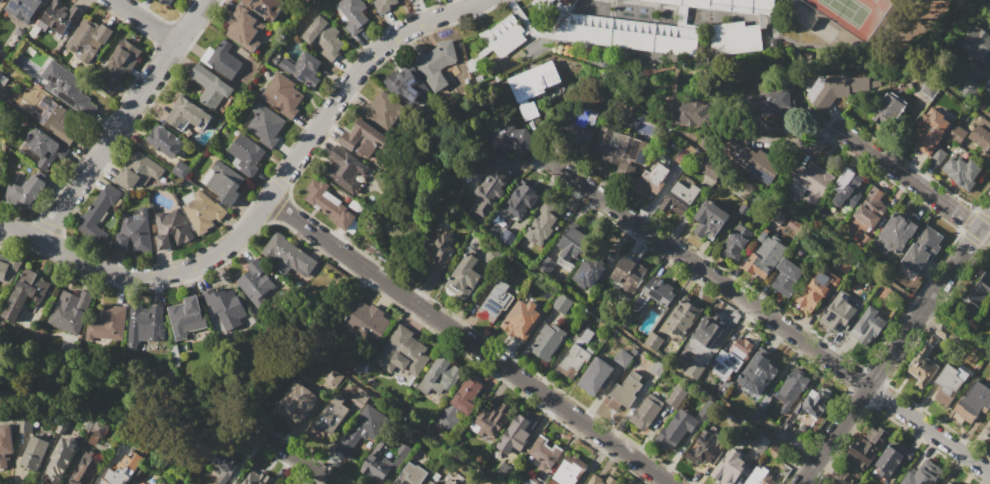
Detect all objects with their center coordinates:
building: (1, 1)
building: (167, 1)
building: (543, 4)
building: (384, 5)
building: (727, 5)
building: (265, 7)
building: (24, 9)
park: (855, 14)
building: (61, 15)
building: (352, 15)
road: (142, 22)
building: (243, 27)
park: (844, 28)
building: (632, 33)
building: (505, 36)
building: (324, 37)
building: (734, 37)
building: (89, 38)
building: (975, 40)
road: (835, 41)
building: (222, 59)
building: (436, 63)
building: (119, 64)
building: (303, 68)
building: (989, 75)
building: (405, 82)
road: (800, 83)
building: (875, 83)
building: (65, 85)
building: (532, 85)
building: (211, 88)
building: (930, 88)
building: (968, 88)
building: (836, 89)
building: (283, 95)
building: (773, 101)
road: (967, 102)
building: (889, 108)
building: (383, 109)
building: (187, 114)
building: (689, 115)
building: (58, 119)
road: (122, 120)
building: (580, 123)
building: (263, 124)
building: (931, 131)
building: (979, 132)
building: (956, 134)
building: (363, 138)
building: (511, 138)
building: (165, 141)
building: (45, 147)
building: (620, 152)
building: (246, 153)
building: (938, 155)
building: (683, 158)
building: (757, 162)
building: (345, 168)
building: (180, 169)
building: (710, 169)
building: (139, 170)
building: (962, 172)
building: (0, 177)
building: (652, 180)
building: (809, 180)
road: (912, 181)
building: (224, 182)
road: (278, 184)
building: (493, 186)
building: (848, 188)
building: (27, 191)
building: (724, 195)
building: (678, 199)
building: (520, 200)
building: (329, 205)
building: (871, 208)
building: (742, 211)
building: (202, 212)
building: (98, 213)
building: (710, 219)
road: (984, 220)
building: (542, 228)
building: (171, 229)
building: (898, 230)
building: (134, 231)
road: (310, 231)
road: (19, 232)
building: (507, 235)
road: (826, 240)
building: (735, 242)
building: (573, 243)
building: (922, 249)
building: (287, 255)
building: (763, 255)
building: (439, 256)
building: (546, 265)
building: (592, 268)
building: (9, 269)
road: (367, 271)
building: (466, 273)
building: (628, 275)
building: (787, 277)
building: (257, 283)
building: (869, 284)
building: (817, 290)
building: (976, 290)
building: (24, 292)
building: (655, 293)
building: (495, 301)
building: (561, 304)
building: (989, 304)
building: (223, 305)
building: (70, 311)
building: (837, 313)
road: (766, 316)
building: (683, 317)
building: (185, 318)
building: (143, 319)
building: (521, 320)
building: (365, 322)
building: (107, 324)
building: (869, 324)
building: (707, 330)
building: (653, 340)
building: (548, 341)
road: (646, 351)
building: (403, 352)
road: (888, 355)
building: (622, 358)
building: (732, 358)
building: (573, 360)
building: (923, 363)
building: (657, 368)
building: (694, 369)
building: (759, 373)
building: (440, 375)
building: (595, 376)
building: (333, 377)
road: (524, 382)
building: (947, 384)
building: (791, 389)
building: (624, 391)
building: (676, 396)
building: (360, 397)
building: (296, 402)
building: (971, 403)
building: (459, 404)
building: (813, 404)
building: (646, 412)
building: (757, 413)
building: (330, 416)
building: (490, 420)
building: (24, 425)
building: (63, 425)
building: (363, 427)
road: (422, 429)
building: (675, 429)
building: (988, 430)
building: (97, 431)
building: (785, 432)
building: (517, 433)
building: (5, 444)
building: (760, 444)
building: (706, 446)
building: (867, 447)
building: (774, 452)
building: (33, 453)
building: (544, 453)
building: (892, 458)
building: (61, 459)
building: (384, 459)
road: (300, 460)
building: (225, 466)
building: (86, 468)
building: (729, 468)
building: (123, 469)
building: (570, 470)
building: (923, 474)
building: (411, 475)
building: (759, 477)
building: (256, 478)
building: (452, 478)
building: (601, 480)
building: (527, 481)
building: (166, 482)
building: (431, 482)
building: (216, 483)
building: (277, 483)
building: (620, 483)
building: (949, 483)

